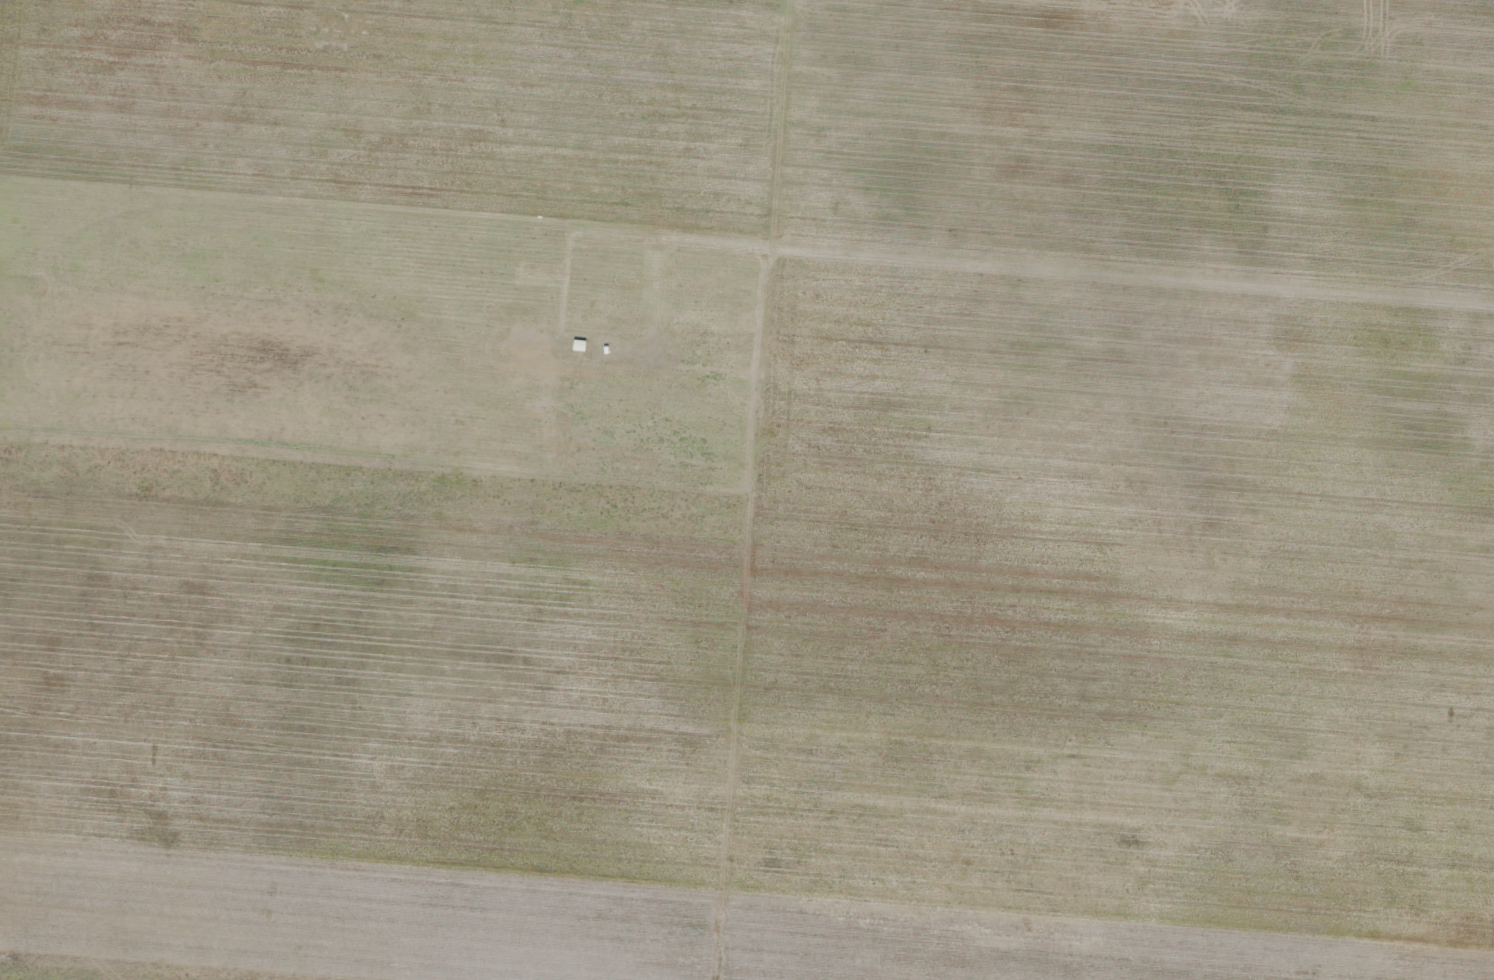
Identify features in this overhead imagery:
road: (32, 356)

